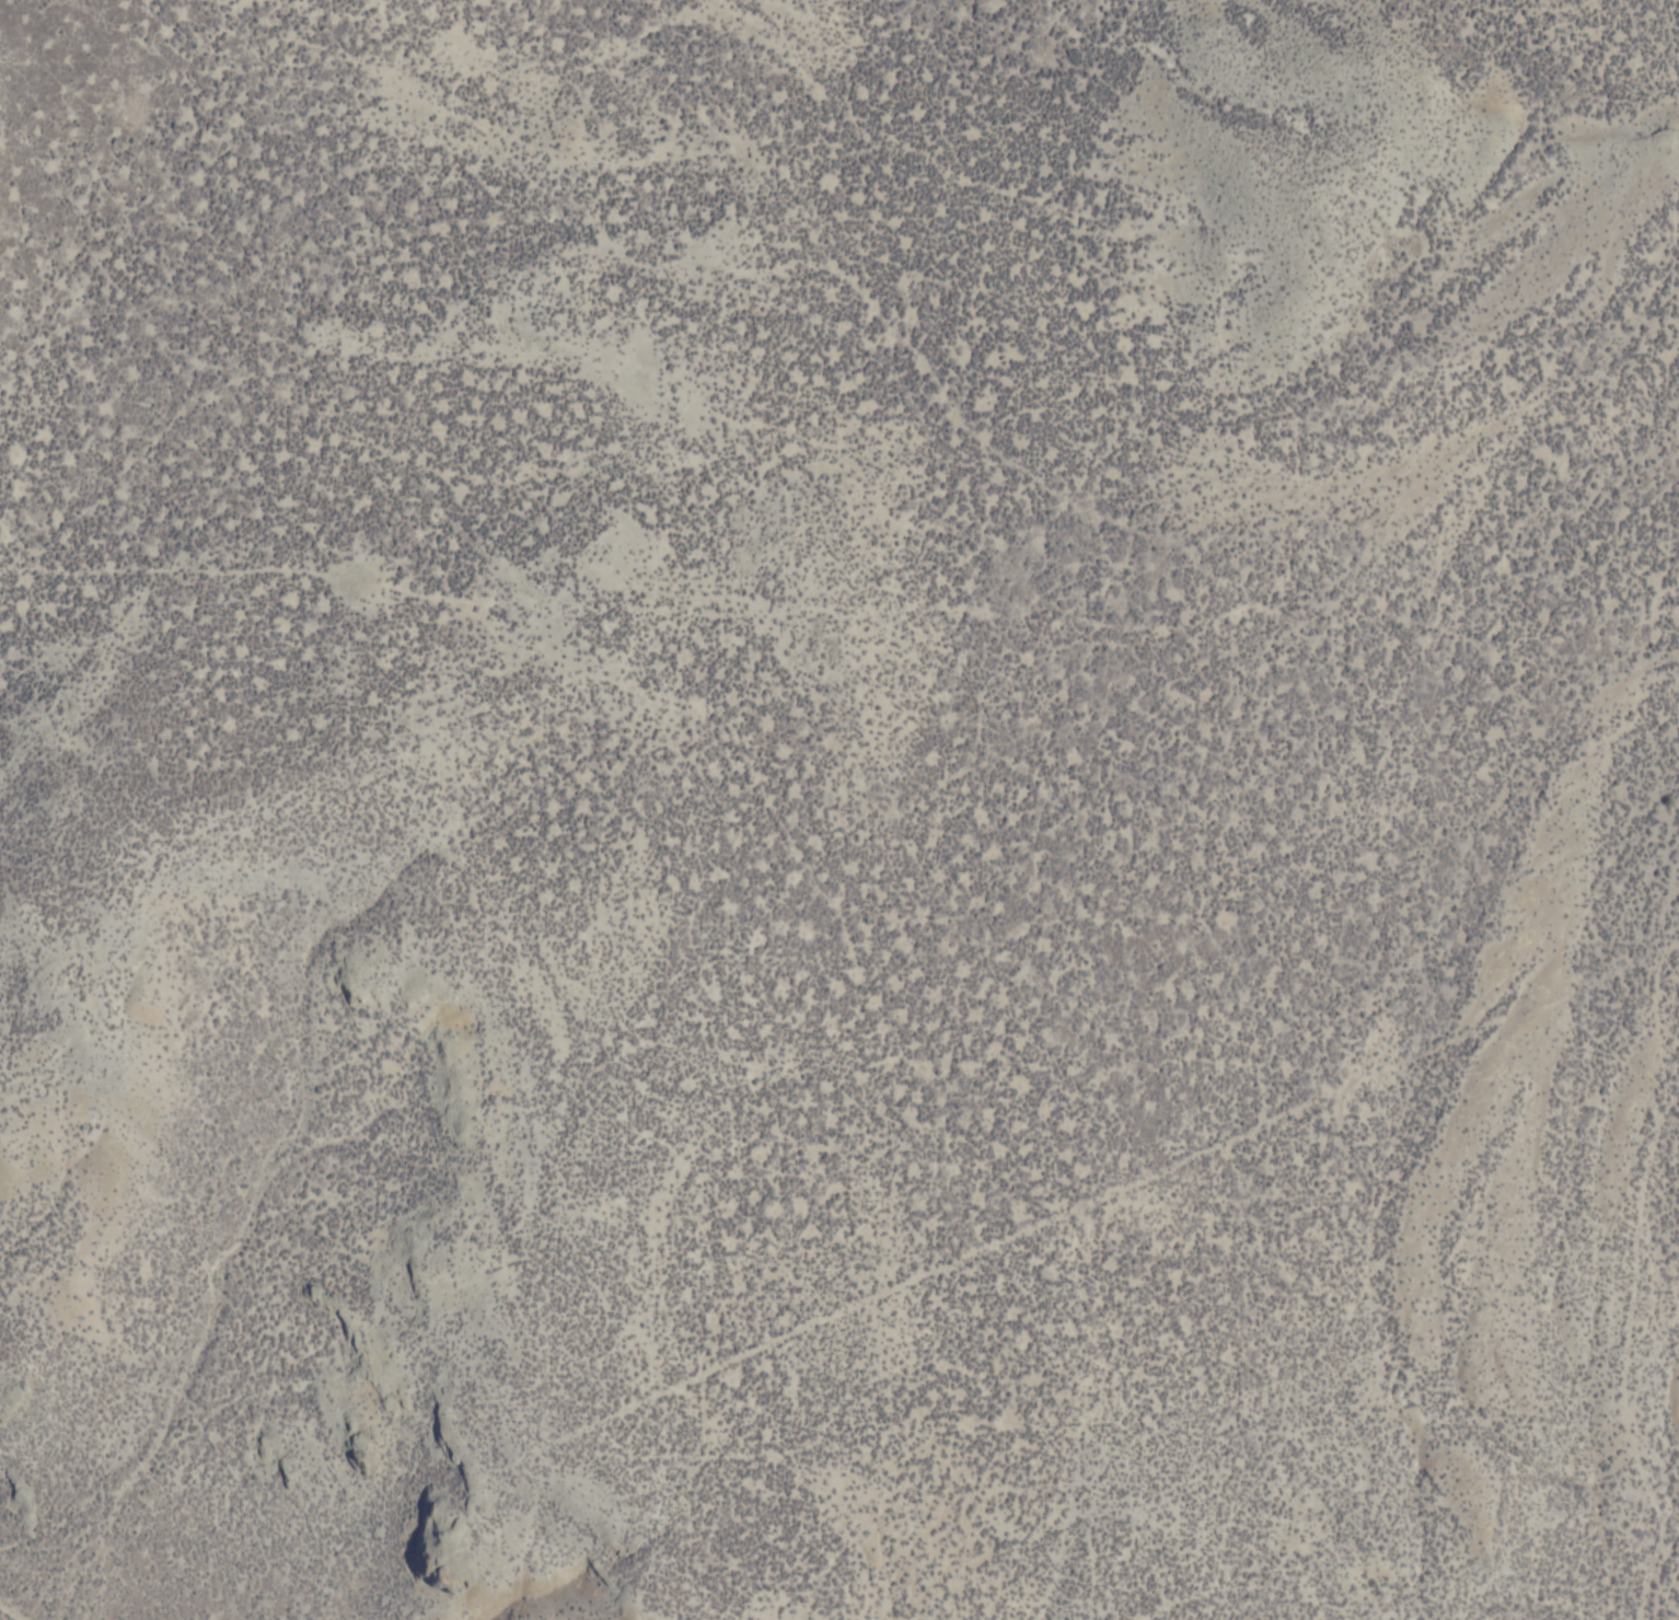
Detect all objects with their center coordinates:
road: (13, 1611)

